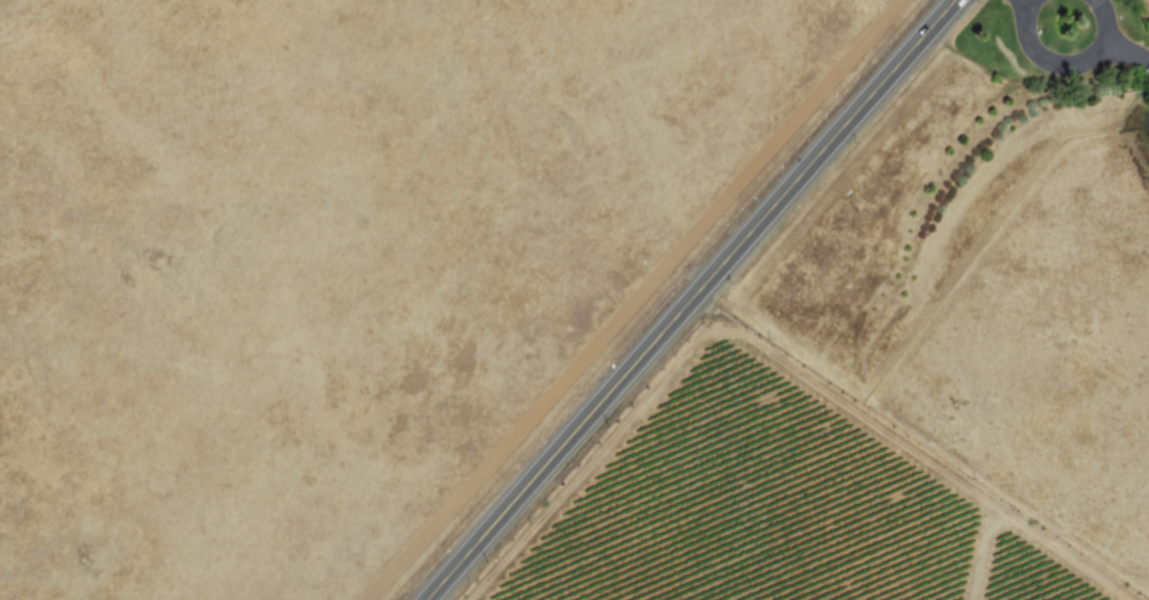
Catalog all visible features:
road: (1111, 40)
road: (1048, 59)
road: (705, 303)

